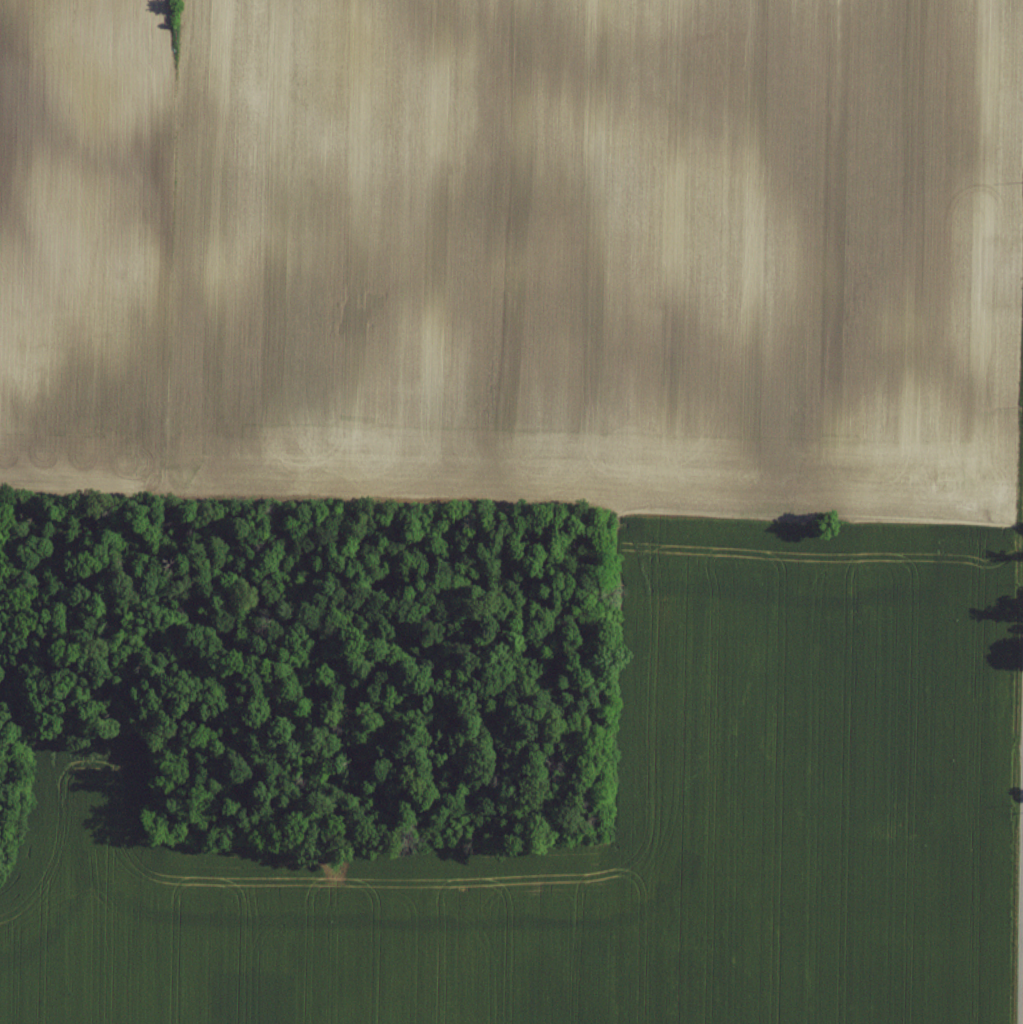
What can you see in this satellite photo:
road: (1021, 929)

